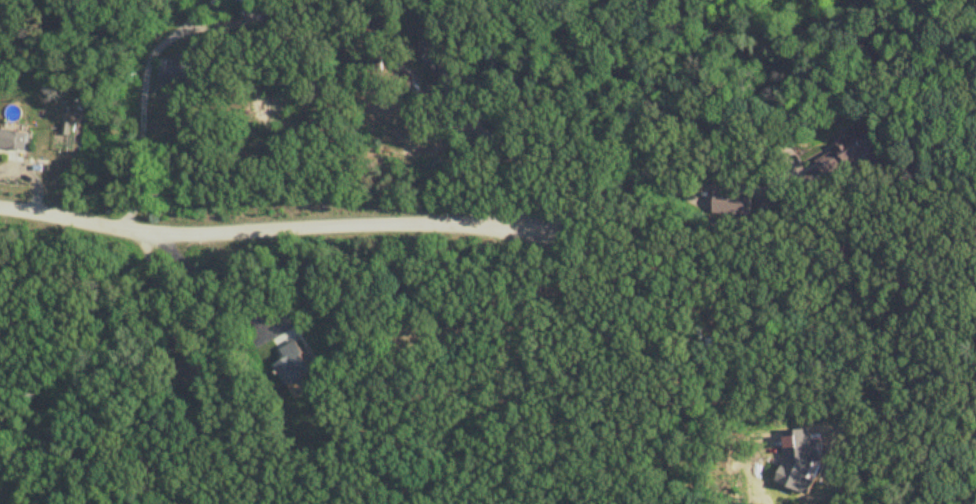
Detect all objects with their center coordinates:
building: (183, 71)
road: (144, 76)
road: (737, 133)
building: (12, 140)
road: (499, 143)
building: (848, 155)
building: (733, 203)
road: (269, 228)
road: (206, 283)
road: (628, 355)
building: (295, 365)
building: (189, 372)
building: (781, 483)

